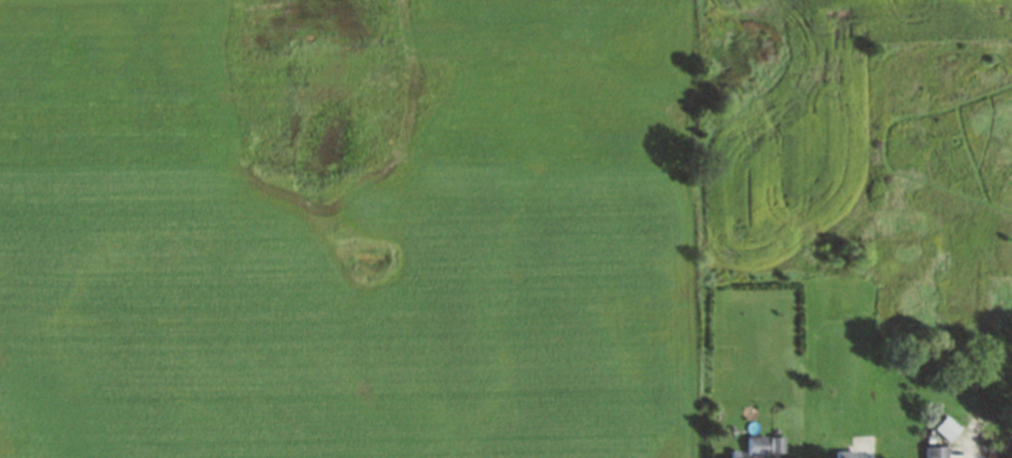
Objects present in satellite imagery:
building: (947, 428)
building: (776, 444)
building: (755, 445)
building: (937, 451)
building: (733, 454)

